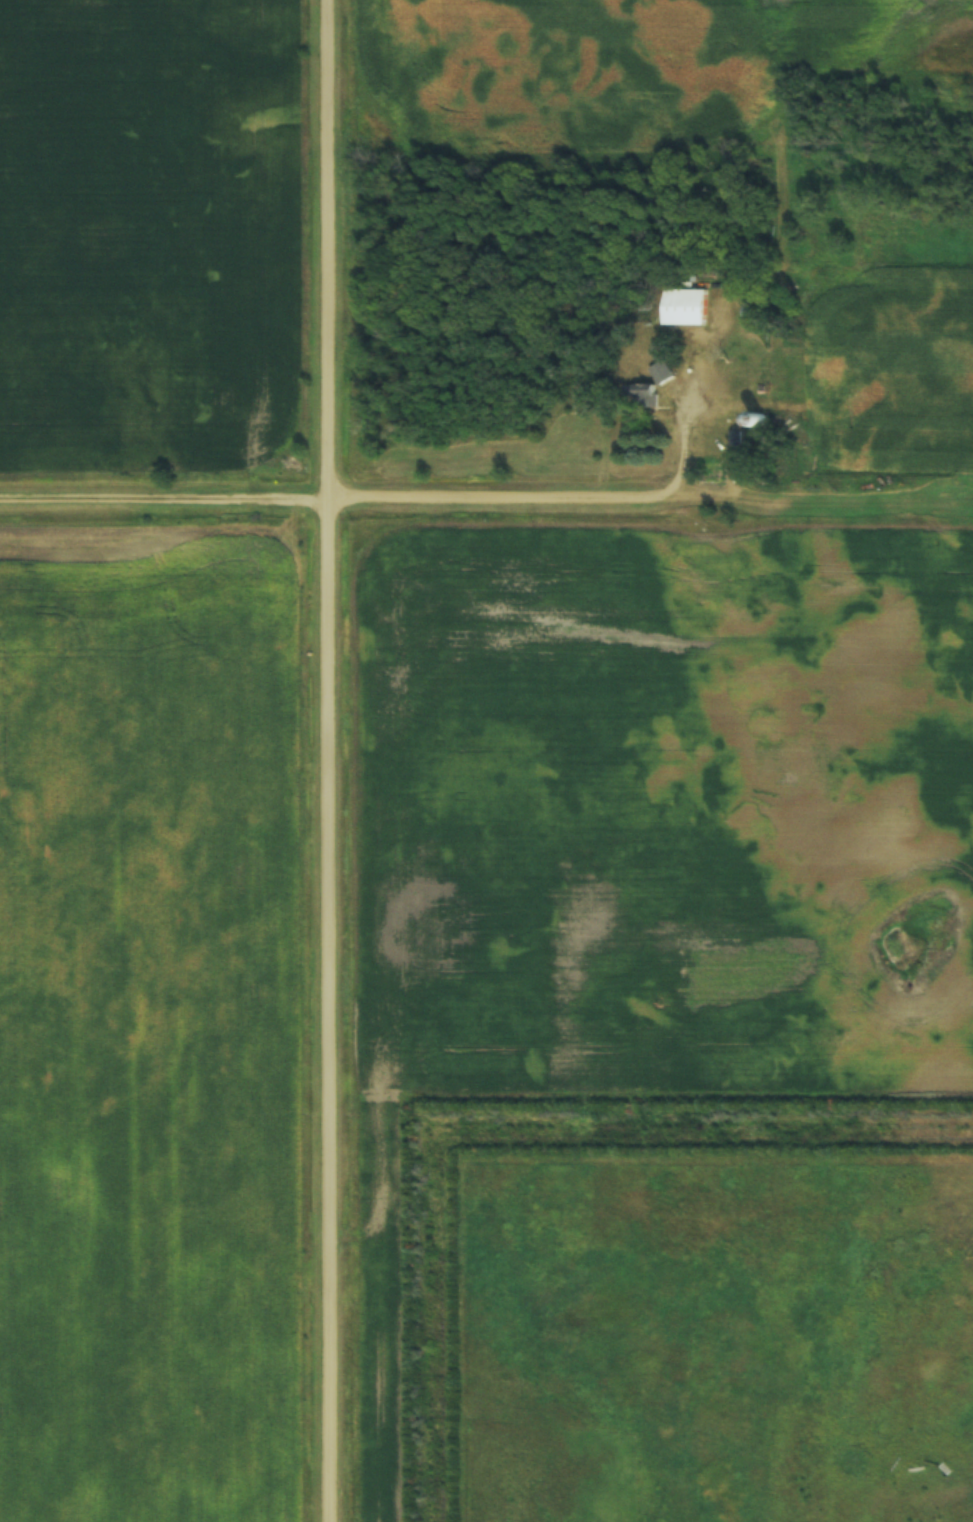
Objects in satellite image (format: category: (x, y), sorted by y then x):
building: (682, 307)
building: (748, 371)
building: (663, 373)
building: (645, 397)
road: (341, 493)
road: (331, 760)

